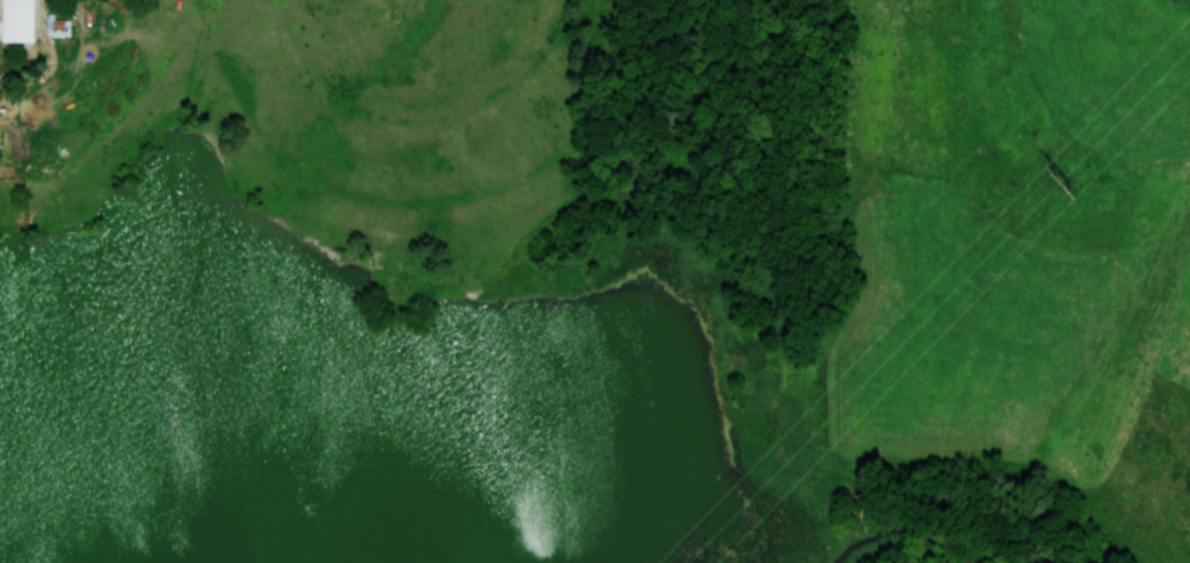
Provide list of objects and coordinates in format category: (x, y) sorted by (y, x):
road: (0, 2)
power tower: (1059, 180)

